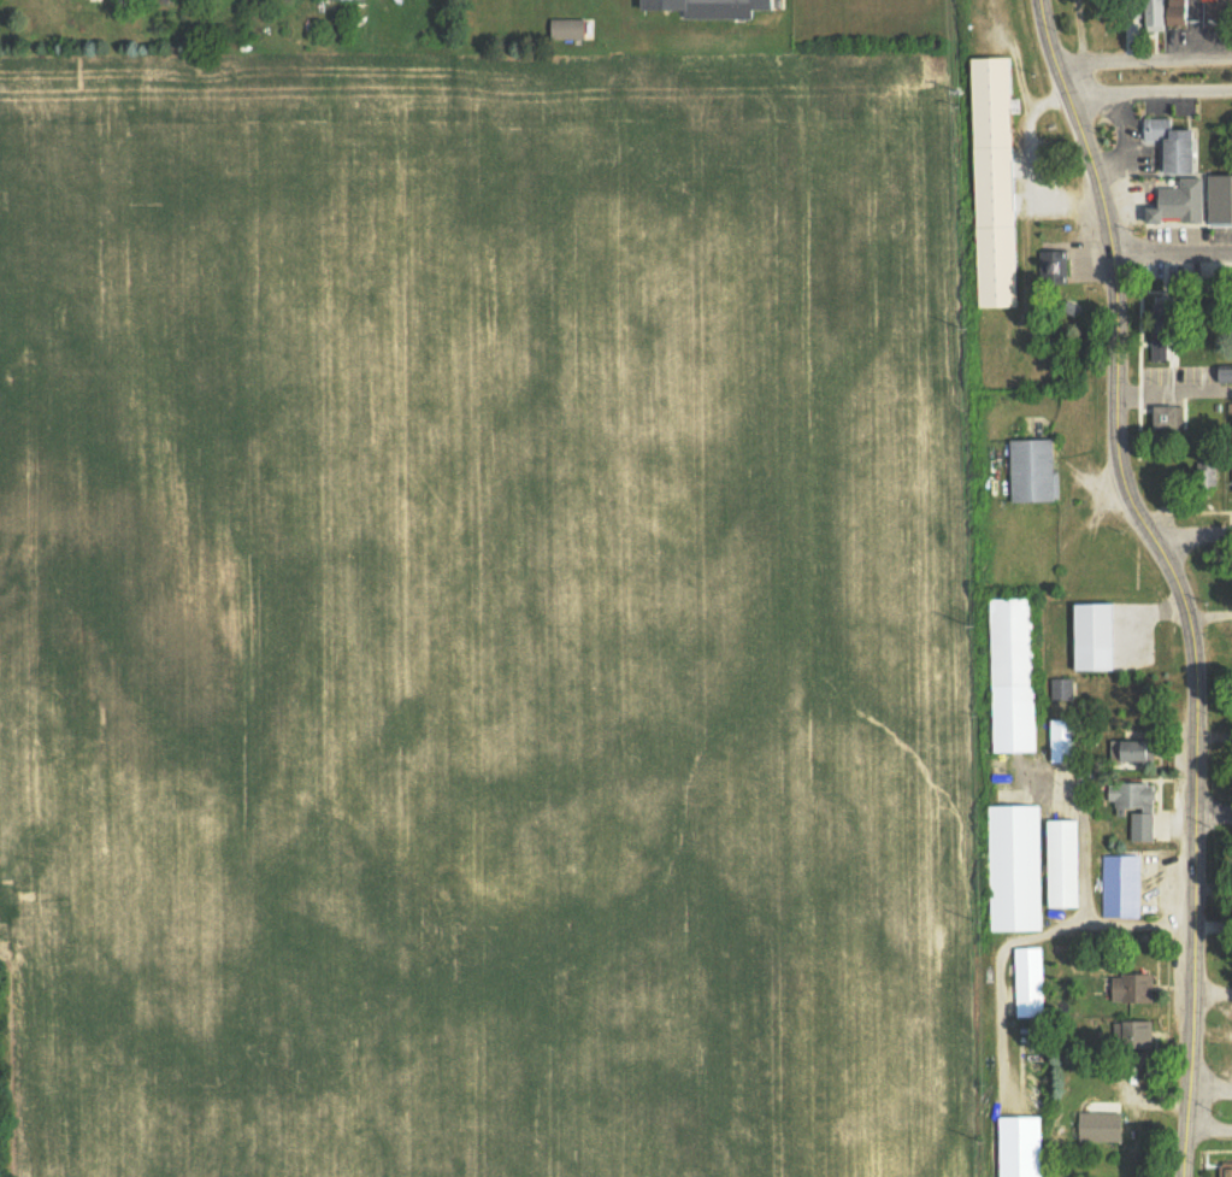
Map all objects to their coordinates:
building: (344, 0)
building: (1210, 0)
building: (712, 7)
building: (1179, 11)
building: (1161, 14)
building: (568, 29)
road: (1142, 65)
road: (1146, 98)
building: (1175, 142)
building: (997, 181)
building: (1221, 198)
building: (1181, 201)
road: (1169, 255)
building: (1053, 266)
building: (1165, 324)
building: (1227, 372)
building: (1169, 418)
building: (1036, 470)
road: (1189, 534)
road: (1171, 578)
crop: (479, 618)
building: (1097, 636)
building: (1013, 673)
building: (1062, 688)
building: (1065, 740)
building: (1134, 751)
building: (1138, 806)
road: (1212, 819)
building: (1066, 863)
building: (1016, 867)
building: (1122, 885)
building: (1030, 982)
building: (1136, 988)
building: (1136, 1035)
road: (1203, 1097)
building: (1103, 1126)
road: (1203, 1131)
building: (1020, 1146)
building: (1216, 1170)

